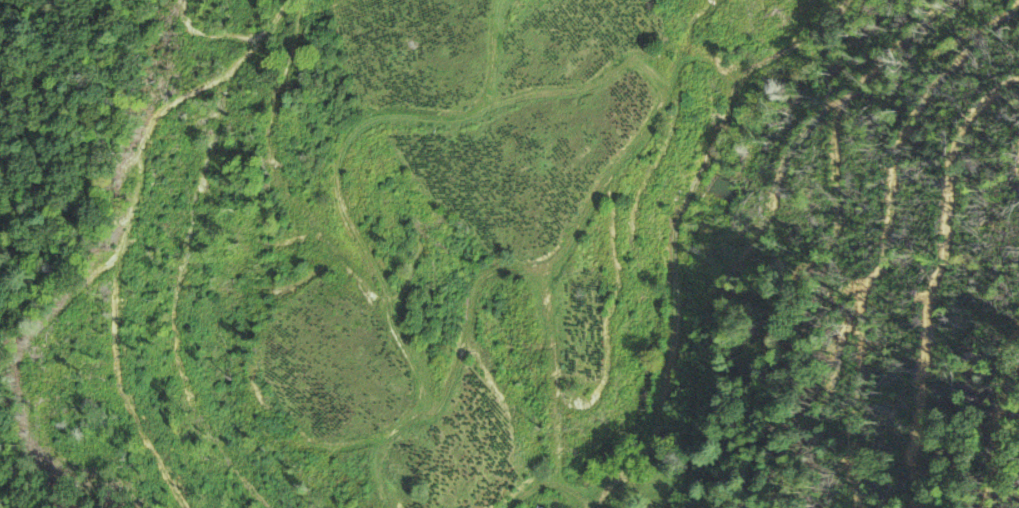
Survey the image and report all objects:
road: (592, 505)
building: (534, 507)

